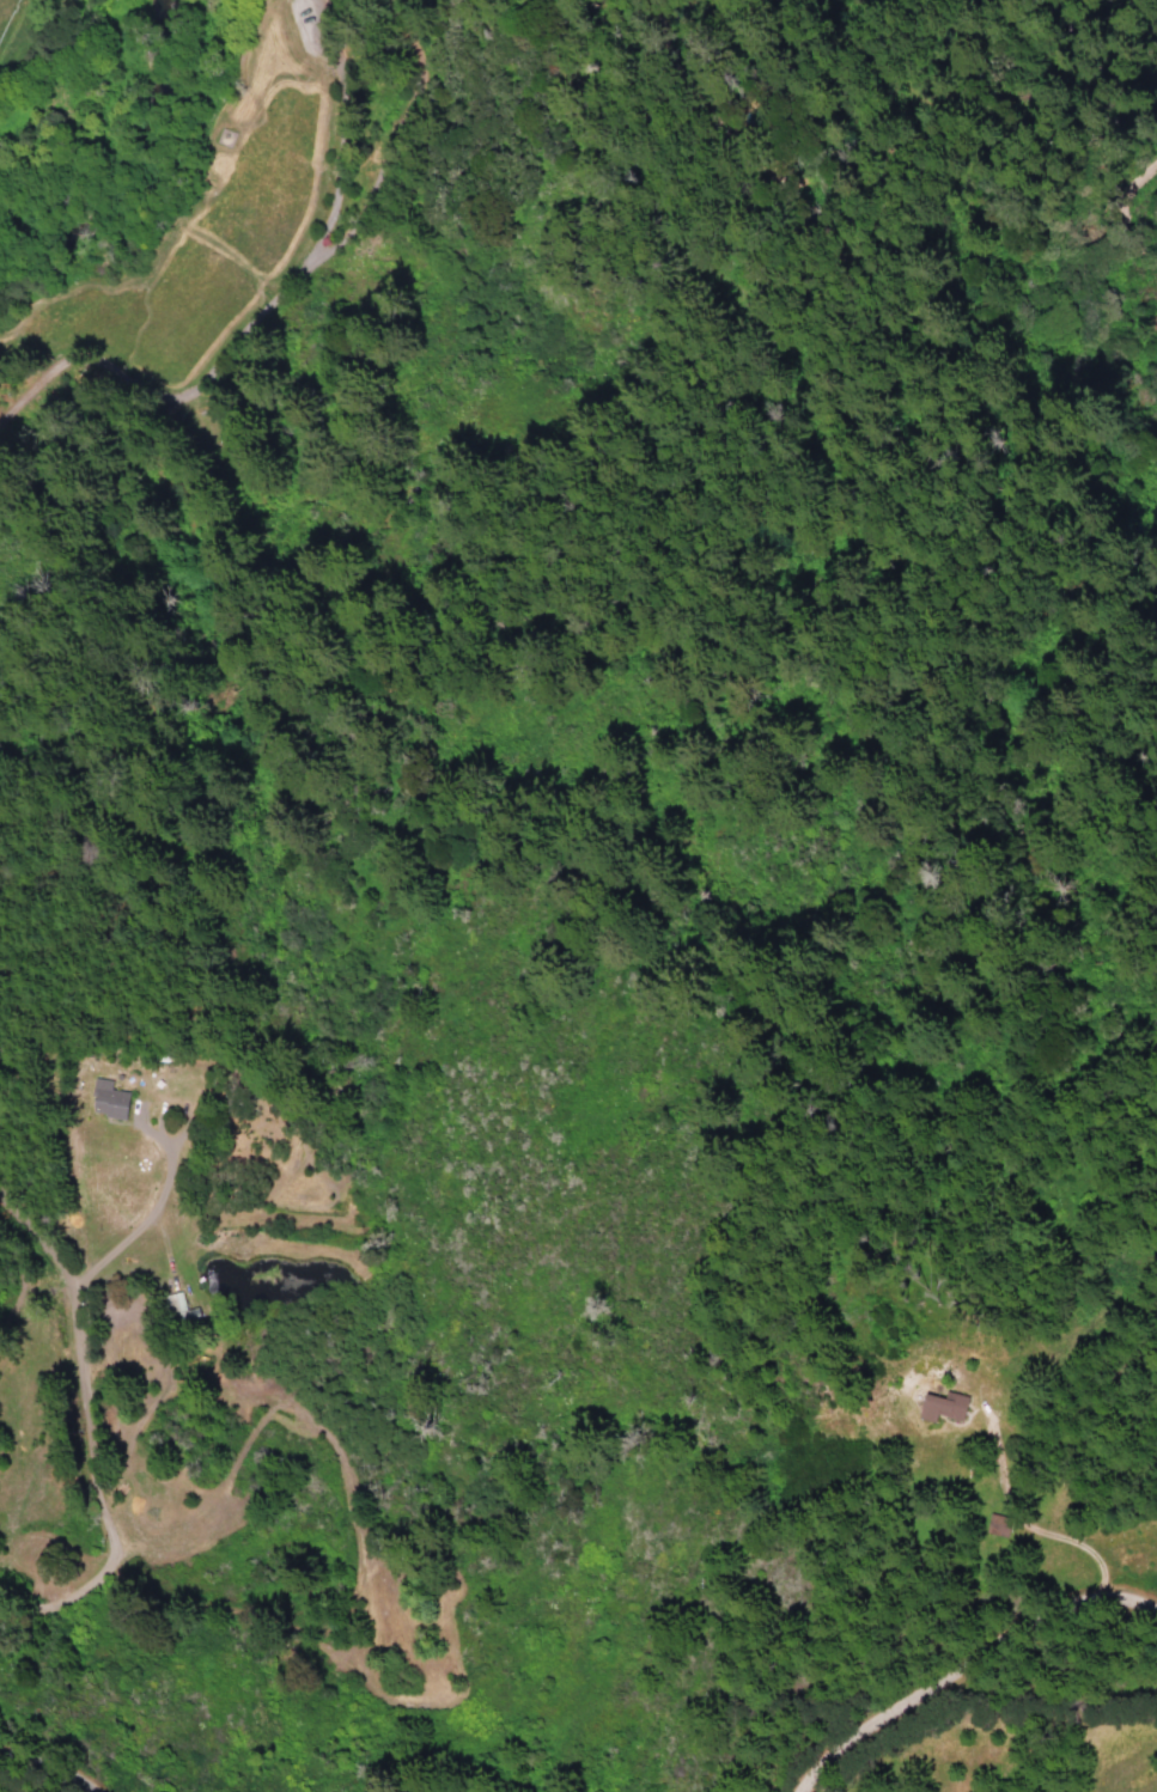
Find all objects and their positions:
road: (260, 310)
building: (110, 1099)
road: (142, 1203)
building: (177, 1302)
building: (946, 1406)
road: (79, 1420)
building: (998, 1523)
road: (963, 1664)
road: (48, 1770)

